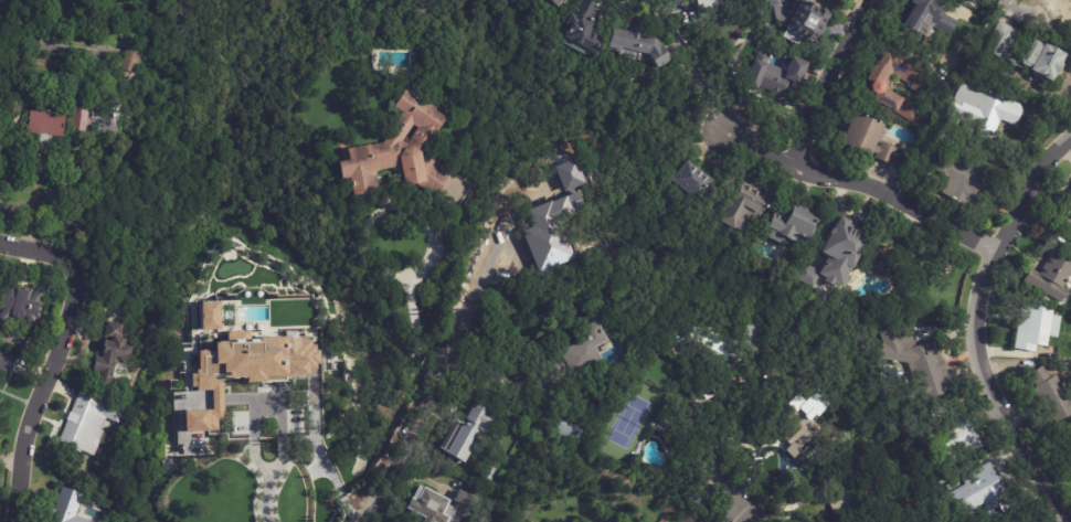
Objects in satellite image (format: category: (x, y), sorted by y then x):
building: (828, 1)
building: (558, 2)
building: (704, 2)
building: (1056, 12)
building: (792, 20)
building: (924, 22)
building: (586, 32)
building: (643, 45)
building: (1042, 54)
building: (127, 66)
building: (773, 75)
road: (828, 81)
building: (873, 86)
building: (18, 113)
building: (978, 113)
building: (82, 121)
building: (128, 124)
building: (50, 128)
building: (935, 137)
building: (863, 140)
building: (407, 158)
building: (963, 180)
building: (697, 181)
road: (865, 182)
building: (1070, 193)
building: (738, 206)
road: (424, 212)
building: (1067, 214)
building: (554, 227)
building: (788, 227)
road: (30, 248)
building: (835, 256)
building: (877, 268)
building: (1050, 271)
building: (21, 305)
road: (473, 311)
building: (209, 316)
road: (413, 326)
road: (975, 328)
building: (1028, 328)
building: (715, 342)
building: (1056, 344)
building: (113, 355)
building: (264, 356)
building: (916, 360)
building: (7, 363)
building: (573, 364)
road: (46, 385)
building: (1051, 395)
road: (269, 397)
building: (806, 424)
building: (87, 426)
building: (572, 432)
building: (468, 433)
building: (952, 441)
road: (400, 446)
building: (1067, 451)
building: (490, 473)
building: (840, 493)
building: (977, 493)
road: (266, 499)
building: (443, 505)
building: (67, 507)
road: (740, 515)

